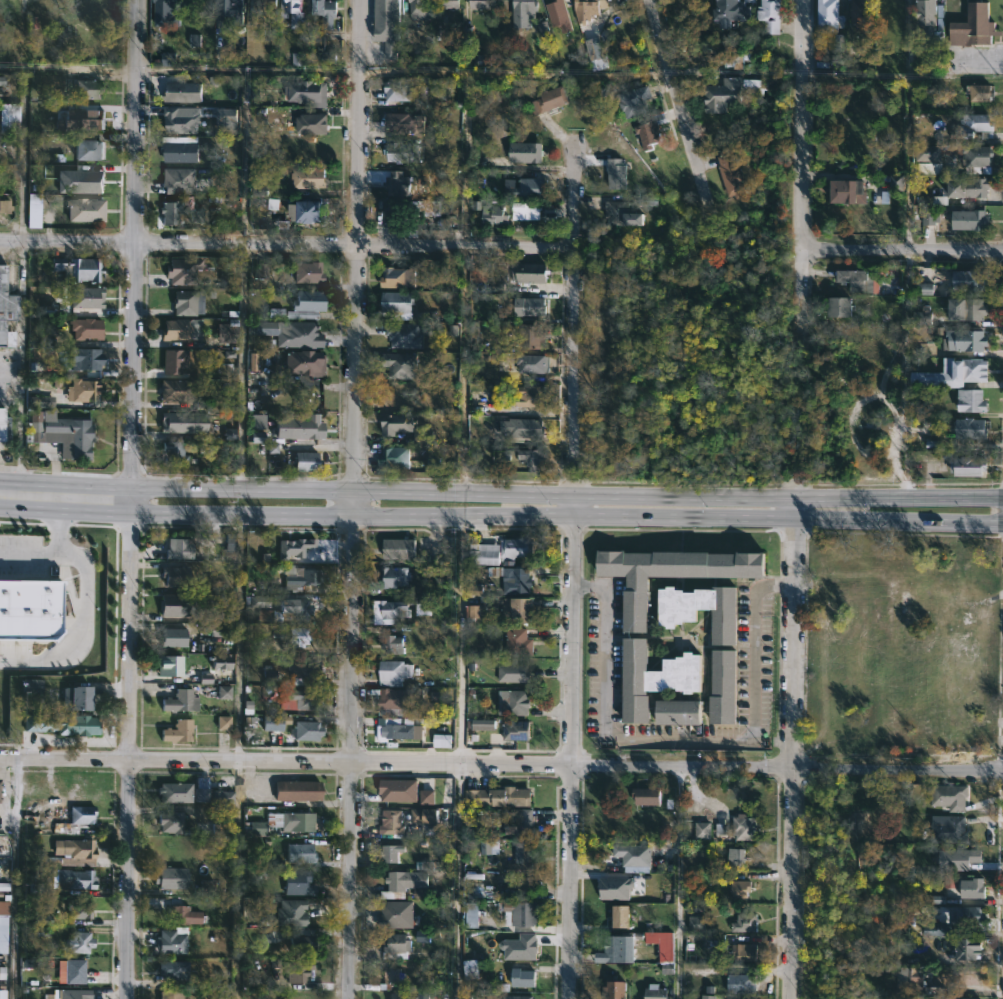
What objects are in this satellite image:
building: (451, 3)
building: (479, 4)
building: (526, 8)
building: (9, 9)
building: (420, 10)
building: (557, 10)
building: (586, 10)
building: (730, 10)
building: (231, 11)
building: (298, 11)
building: (328, 12)
building: (167, 13)
building: (263, 13)
building: (857, 13)
building: (770, 15)
building: (927, 20)
building: (828, 21)
building: (386, 24)
building: (972, 25)
building: (592, 53)
building: (19, 54)
building: (168, 58)
building: (328, 58)
building: (297, 59)
road: (70, 71)
road: (673, 80)
building: (1, 81)
building: (88, 89)
building: (185, 91)
building: (398, 91)
building: (982, 92)
building: (728, 93)
building: (308, 94)
building: (551, 100)
building: (632, 102)
building: (9, 118)
road: (801, 123)
building: (85, 124)
building: (312, 124)
building: (409, 124)
building: (977, 125)
building: (647, 130)
building: (90, 149)
building: (181, 151)
building: (404, 152)
building: (526, 153)
road: (21, 155)
building: (974, 158)
building: (929, 168)
building: (617, 173)
building: (732, 177)
building: (310, 178)
building: (80, 181)
building: (180, 181)
building: (897, 183)
building: (400, 184)
building: (965, 187)
building: (527, 188)
road: (574, 188)
building: (844, 191)
building: (5, 206)
building: (426, 208)
building: (33, 210)
building: (87, 210)
building: (525, 211)
building: (171, 212)
building: (309, 212)
building: (616, 212)
building: (293, 213)
building: (196, 214)
building: (494, 214)
building: (408, 216)
building: (969, 220)
road: (286, 244)
road: (902, 250)
building: (262, 268)
building: (79, 270)
building: (184, 271)
building: (309, 272)
building: (529, 273)
building: (401, 277)
building: (854, 280)
building: (972, 280)
road: (801, 287)
building: (927, 289)
building: (83, 297)
building: (399, 302)
building: (185, 303)
building: (308, 305)
building: (527, 308)
building: (842, 308)
building: (6, 310)
building: (968, 310)
building: (86, 329)
building: (179, 330)
building: (298, 335)
building: (408, 335)
building: (528, 335)
building: (961, 339)
building: (87, 360)
building: (175, 361)
building: (305, 363)
building: (530, 363)
building: (401, 366)
building: (973, 371)
building: (83, 389)
building: (178, 393)
building: (396, 395)
building: (528, 396)
building: (41, 401)
building: (971, 401)
building: (257, 422)
building: (177, 423)
building: (2, 424)
building: (300, 428)
building: (405, 428)
building: (526, 429)
building: (969, 429)
building: (257, 437)
building: (65, 439)
building: (204, 446)
building: (272, 448)
building: (174, 454)
building: (531, 457)
building: (395, 458)
building: (307, 462)
building: (965, 466)
road: (501, 491)
road: (133, 499)
road: (356, 499)
road: (501, 515)
building: (293, 547)
building: (397, 547)
building: (177, 548)
building: (499, 550)
road: (32, 553)
building: (219, 554)
building: (173, 574)
building: (397, 575)
building: (303, 578)
building: (519, 579)
building: (176, 604)
building: (393, 607)
building: (519, 608)
building: (30, 609)
road: (82, 612)
building: (473, 615)
road: (570, 620)
building: (172, 636)
building: (297, 636)
building: (641, 636)
road: (239, 638)
building: (517, 641)
building: (392, 643)
building: (168, 665)
building: (76, 668)
building: (304, 670)
building: (394, 672)
building: (515, 672)
building: (723, 673)
building: (78, 696)
building: (307, 699)
building: (178, 701)
building: (518, 701)
building: (391, 702)
building: (677, 711)
building: (6, 722)
building: (62, 723)
building: (272, 724)
building: (402, 728)
building: (305, 729)
building: (176, 730)
building: (518, 730)
road: (682, 739)
road: (790, 745)
road: (460, 757)
road: (501, 761)
building: (201, 790)
building: (296, 790)
building: (175, 791)
building: (499, 796)
building: (646, 796)
building: (952, 796)
building: (221, 797)
building: (82, 814)
building: (426, 815)
building: (172, 821)
building: (298, 821)
building: (391, 825)
building: (746, 826)
building: (948, 829)
building: (703, 832)
building: (524, 844)
building: (79, 848)
building: (299, 852)
building: (634, 853)
building: (390, 855)
building: (77, 878)
building: (172, 878)
road: (14, 879)
road: (238, 880)
building: (401, 880)
building: (298, 882)
building: (975, 888)
building: (742, 890)
building: (81, 909)
building: (520, 913)
building: (398, 914)
building: (967, 914)
building: (184, 915)
building: (617, 916)
building: (2, 923)
building: (745, 924)
building: (80, 942)
building: (171, 942)
building: (618, 943)
building: (305, 944)
building: (396, 946)
building: (965, 947)
building: (746, 951)
building: (172, 970)
building: (298, 970)
building: (75, 971)
building: (392, 977)
building: (525, 978)
building: (907, 980)
building: (743, 983)
building: (616, 990)
building: (657, 992)
building: (955, 993)
building: (68, 994)
building: (171, 995)
building: (404, 996)
building: (518, 997)
building: (707, 998)

